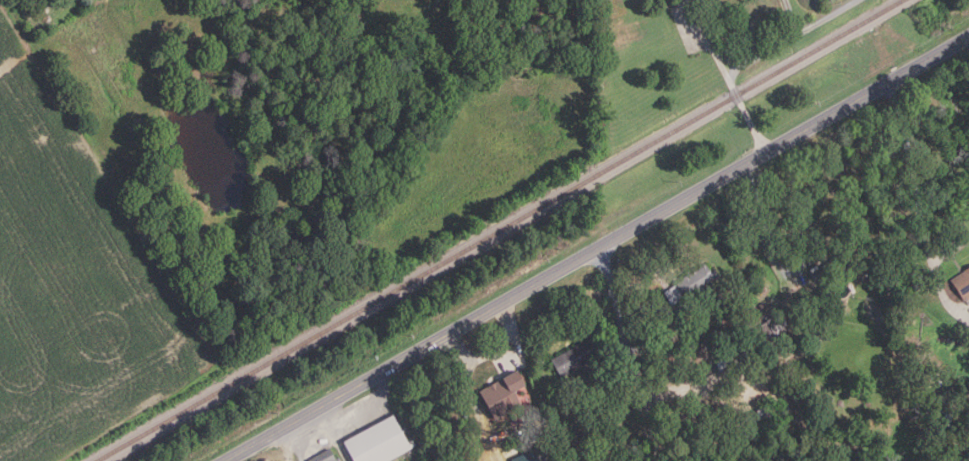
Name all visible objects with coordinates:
building: (710, 6)
building: (356, 18)
road: (790, 38)
road: (729, 81)
road: (946, 198)
road: (917, 206)
railway: (504, 230)
road: (597, 248)
road: (771, 262)
building: (830, 267)
building: (963, 281)
building: (692, 283)
building: (778, 329)
road: (629, 347)
building: (577, 356)
road: (750, 382)
building: (504, 394)
building: (941, 398)
building: (716, 412)
building: (757, 419)
road: (297, 442)
building: (379, 442)
building: (326, 456)

